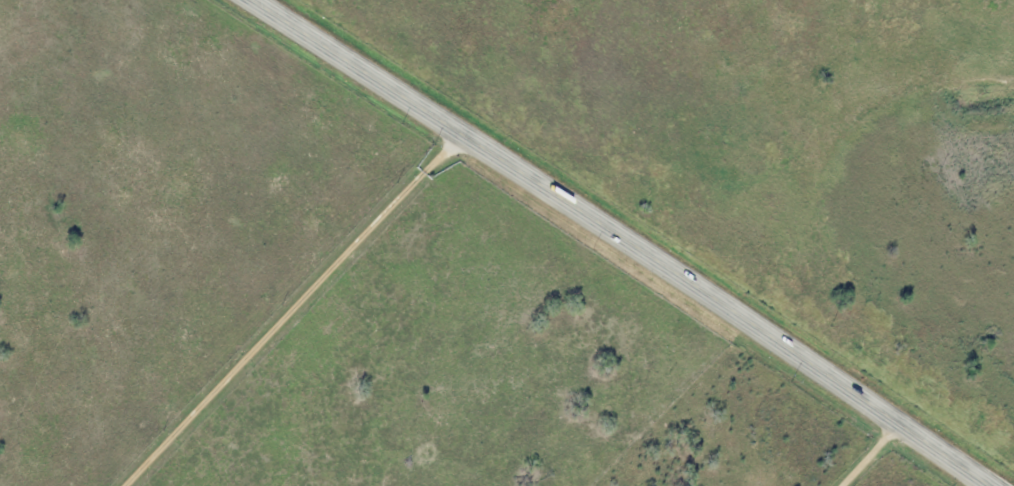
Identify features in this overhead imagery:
road: (617, 239)

